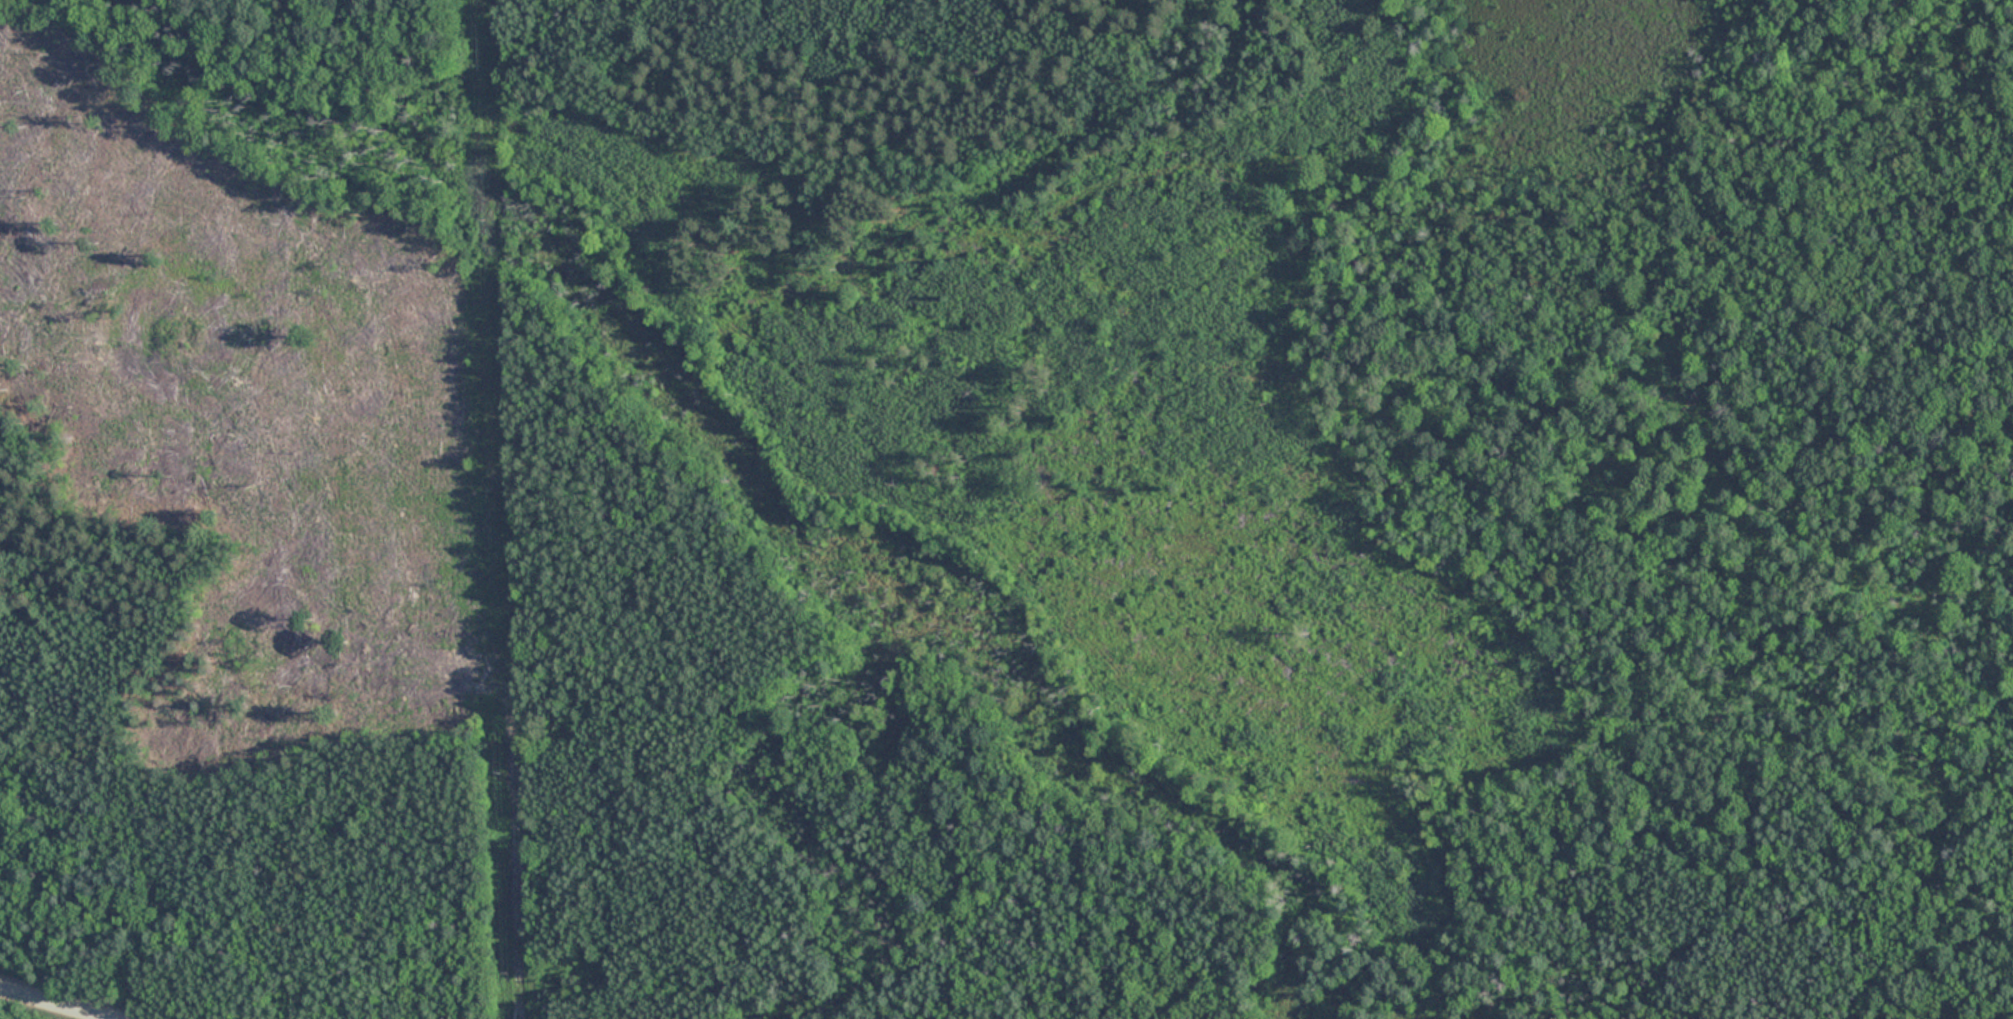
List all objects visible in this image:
road: (911, 156)
road: (508, 509)
park: (1006, 509)
road: (52, 1004)

